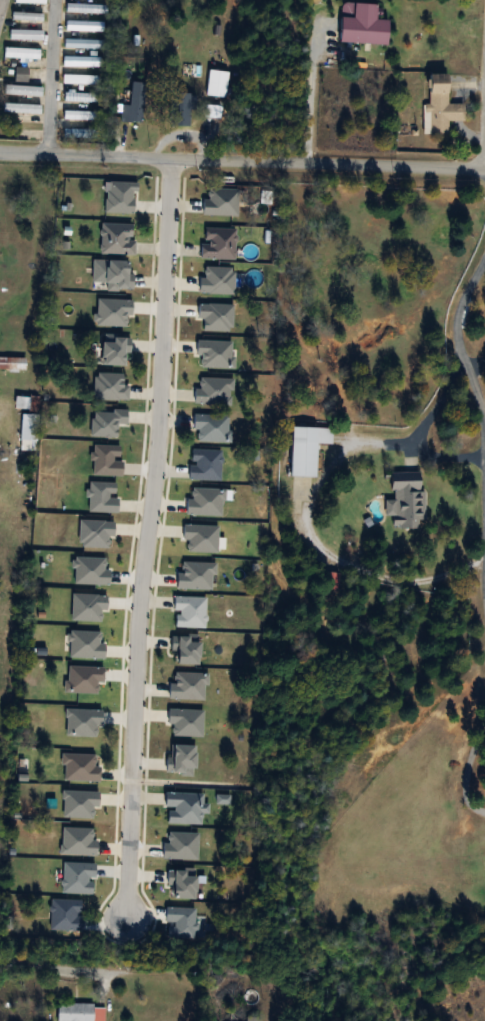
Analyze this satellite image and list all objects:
building: (29, 1)
building: (84, 8)
road: (3, 11)
building: (25, 16)
building: (74, 25)
building: (25, 34)
building: (82, 43)
building: (20, 53)
building: (81, 61)
building: (20, 74)
road: (58, 76)
building: (78, 79)
road: (327, 81)
building: (215, 83)
building: (77, 97)
building: (134, 104)
building: (438, 106)
building: (179, 109)
building: (78, 115)
building: (76, 134)
road: (242, 158)
road: (474, 360)
building: (12, 363)
road: (468, 387)
building: (27, 421)
road: (420, 428)
building: (306, 449)
road: (443, 454)
building: (406, 499)
road: (146, 534)
road: (380, 575)
building: (329, 580)
road: (466, 768)
road: (52, 969)
building: (79, 1012)
building: (252, 1018)

